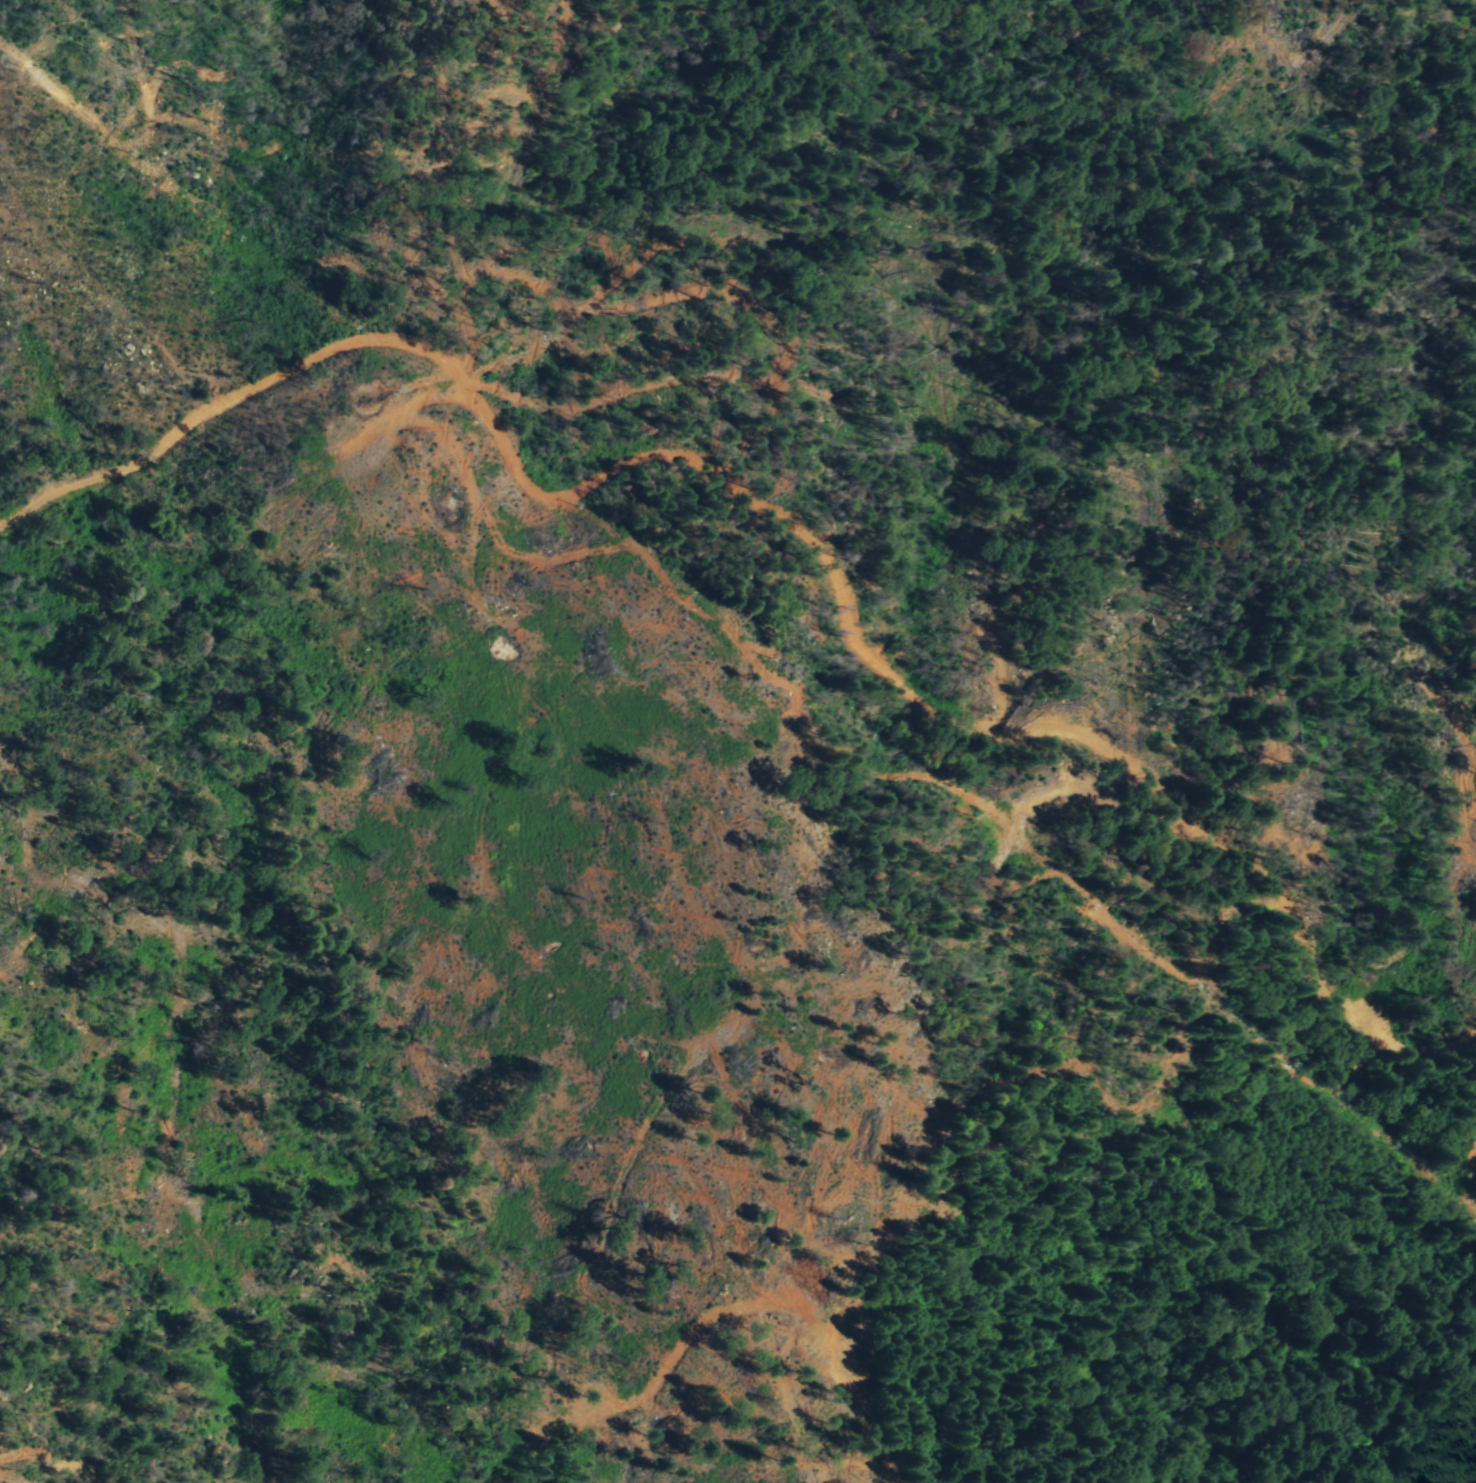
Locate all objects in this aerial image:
road: (814, 541)

